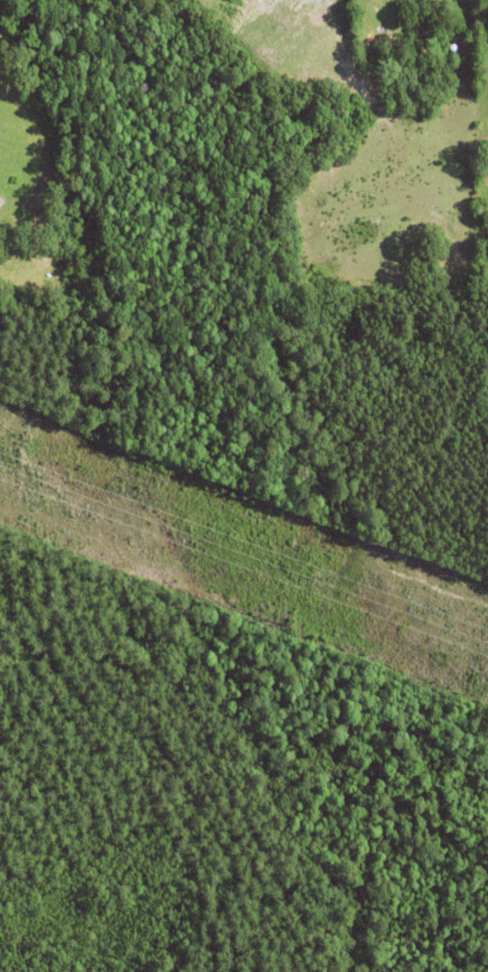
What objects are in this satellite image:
building: (1, 200)
road: (72, 677)

